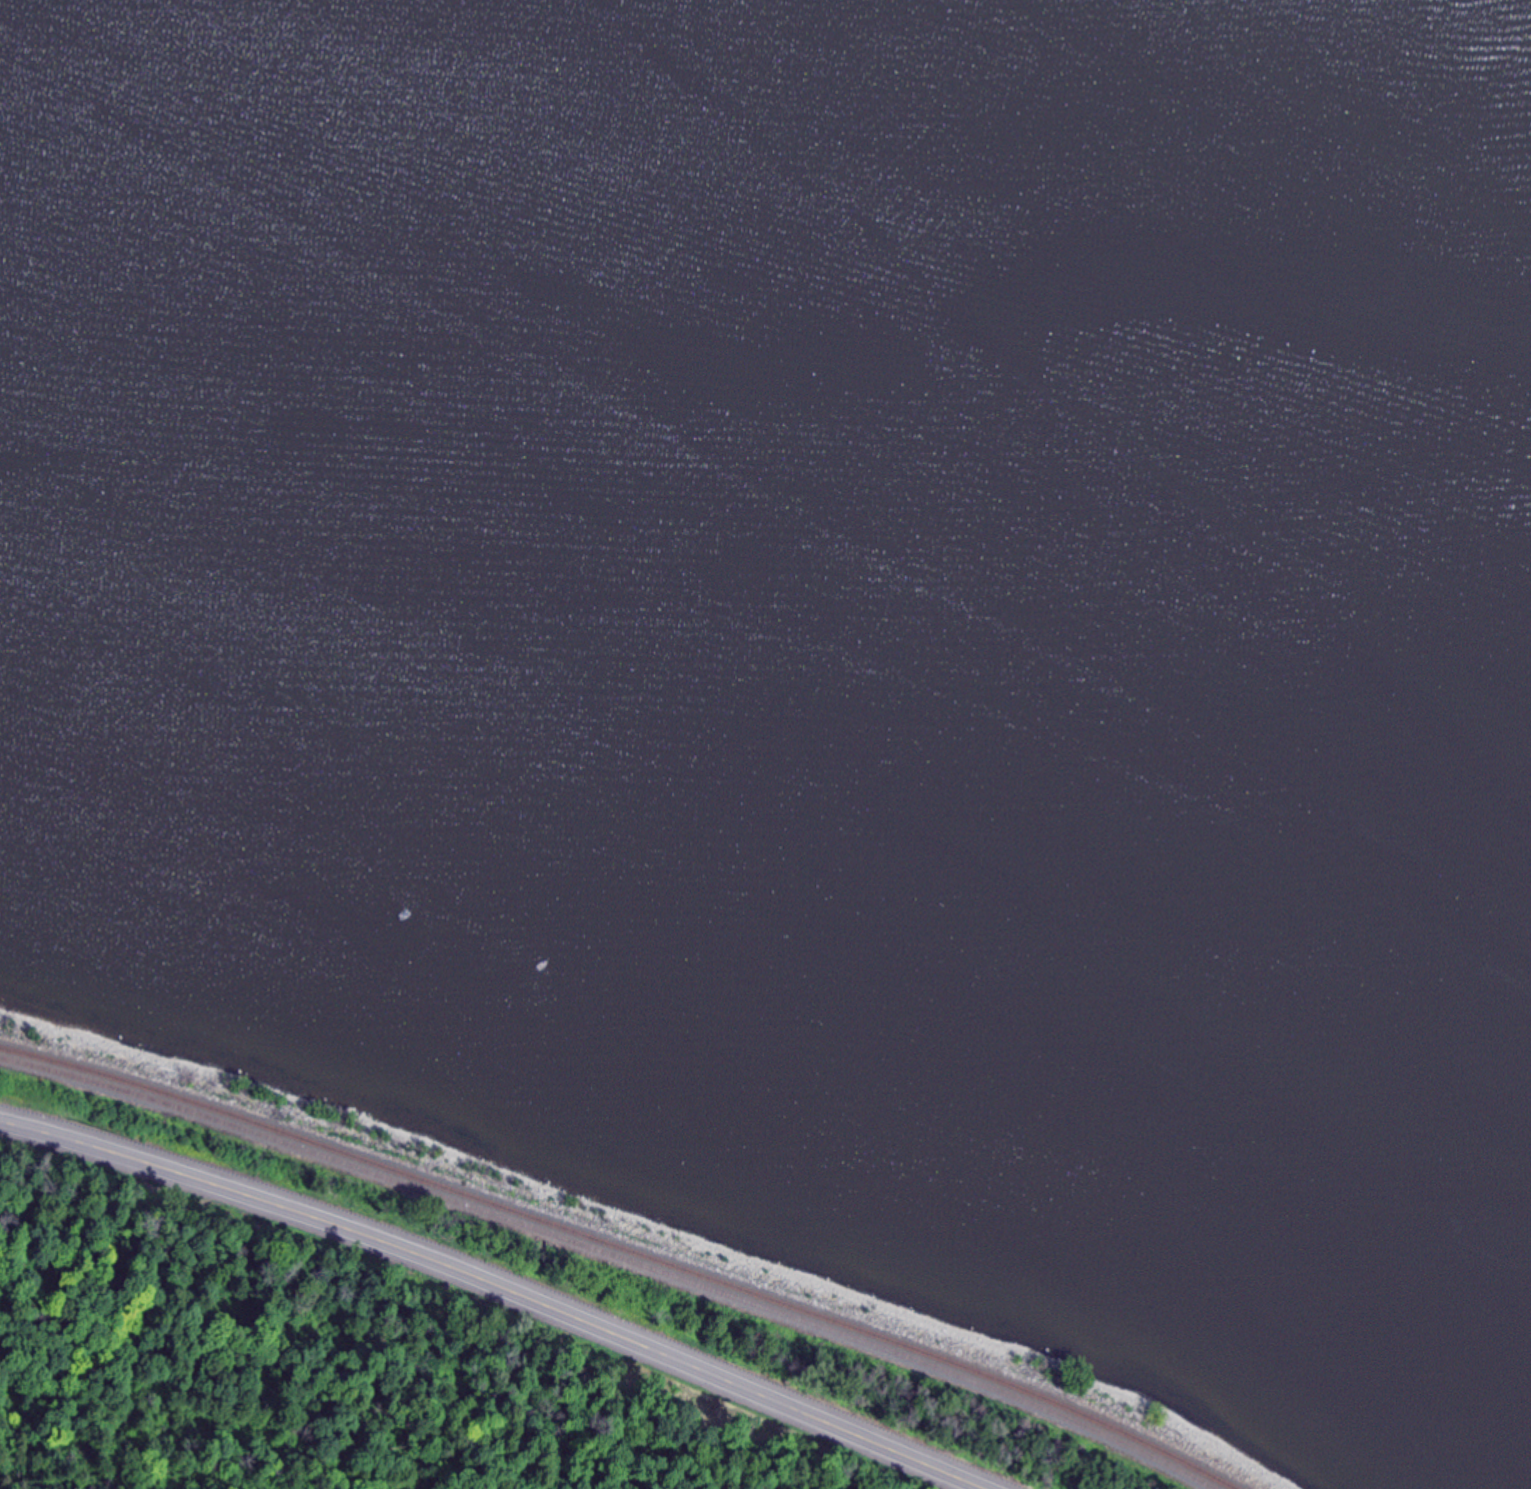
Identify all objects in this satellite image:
railway: (623, 1250)
railway: (612, 1257)
road: (498, 1288)

